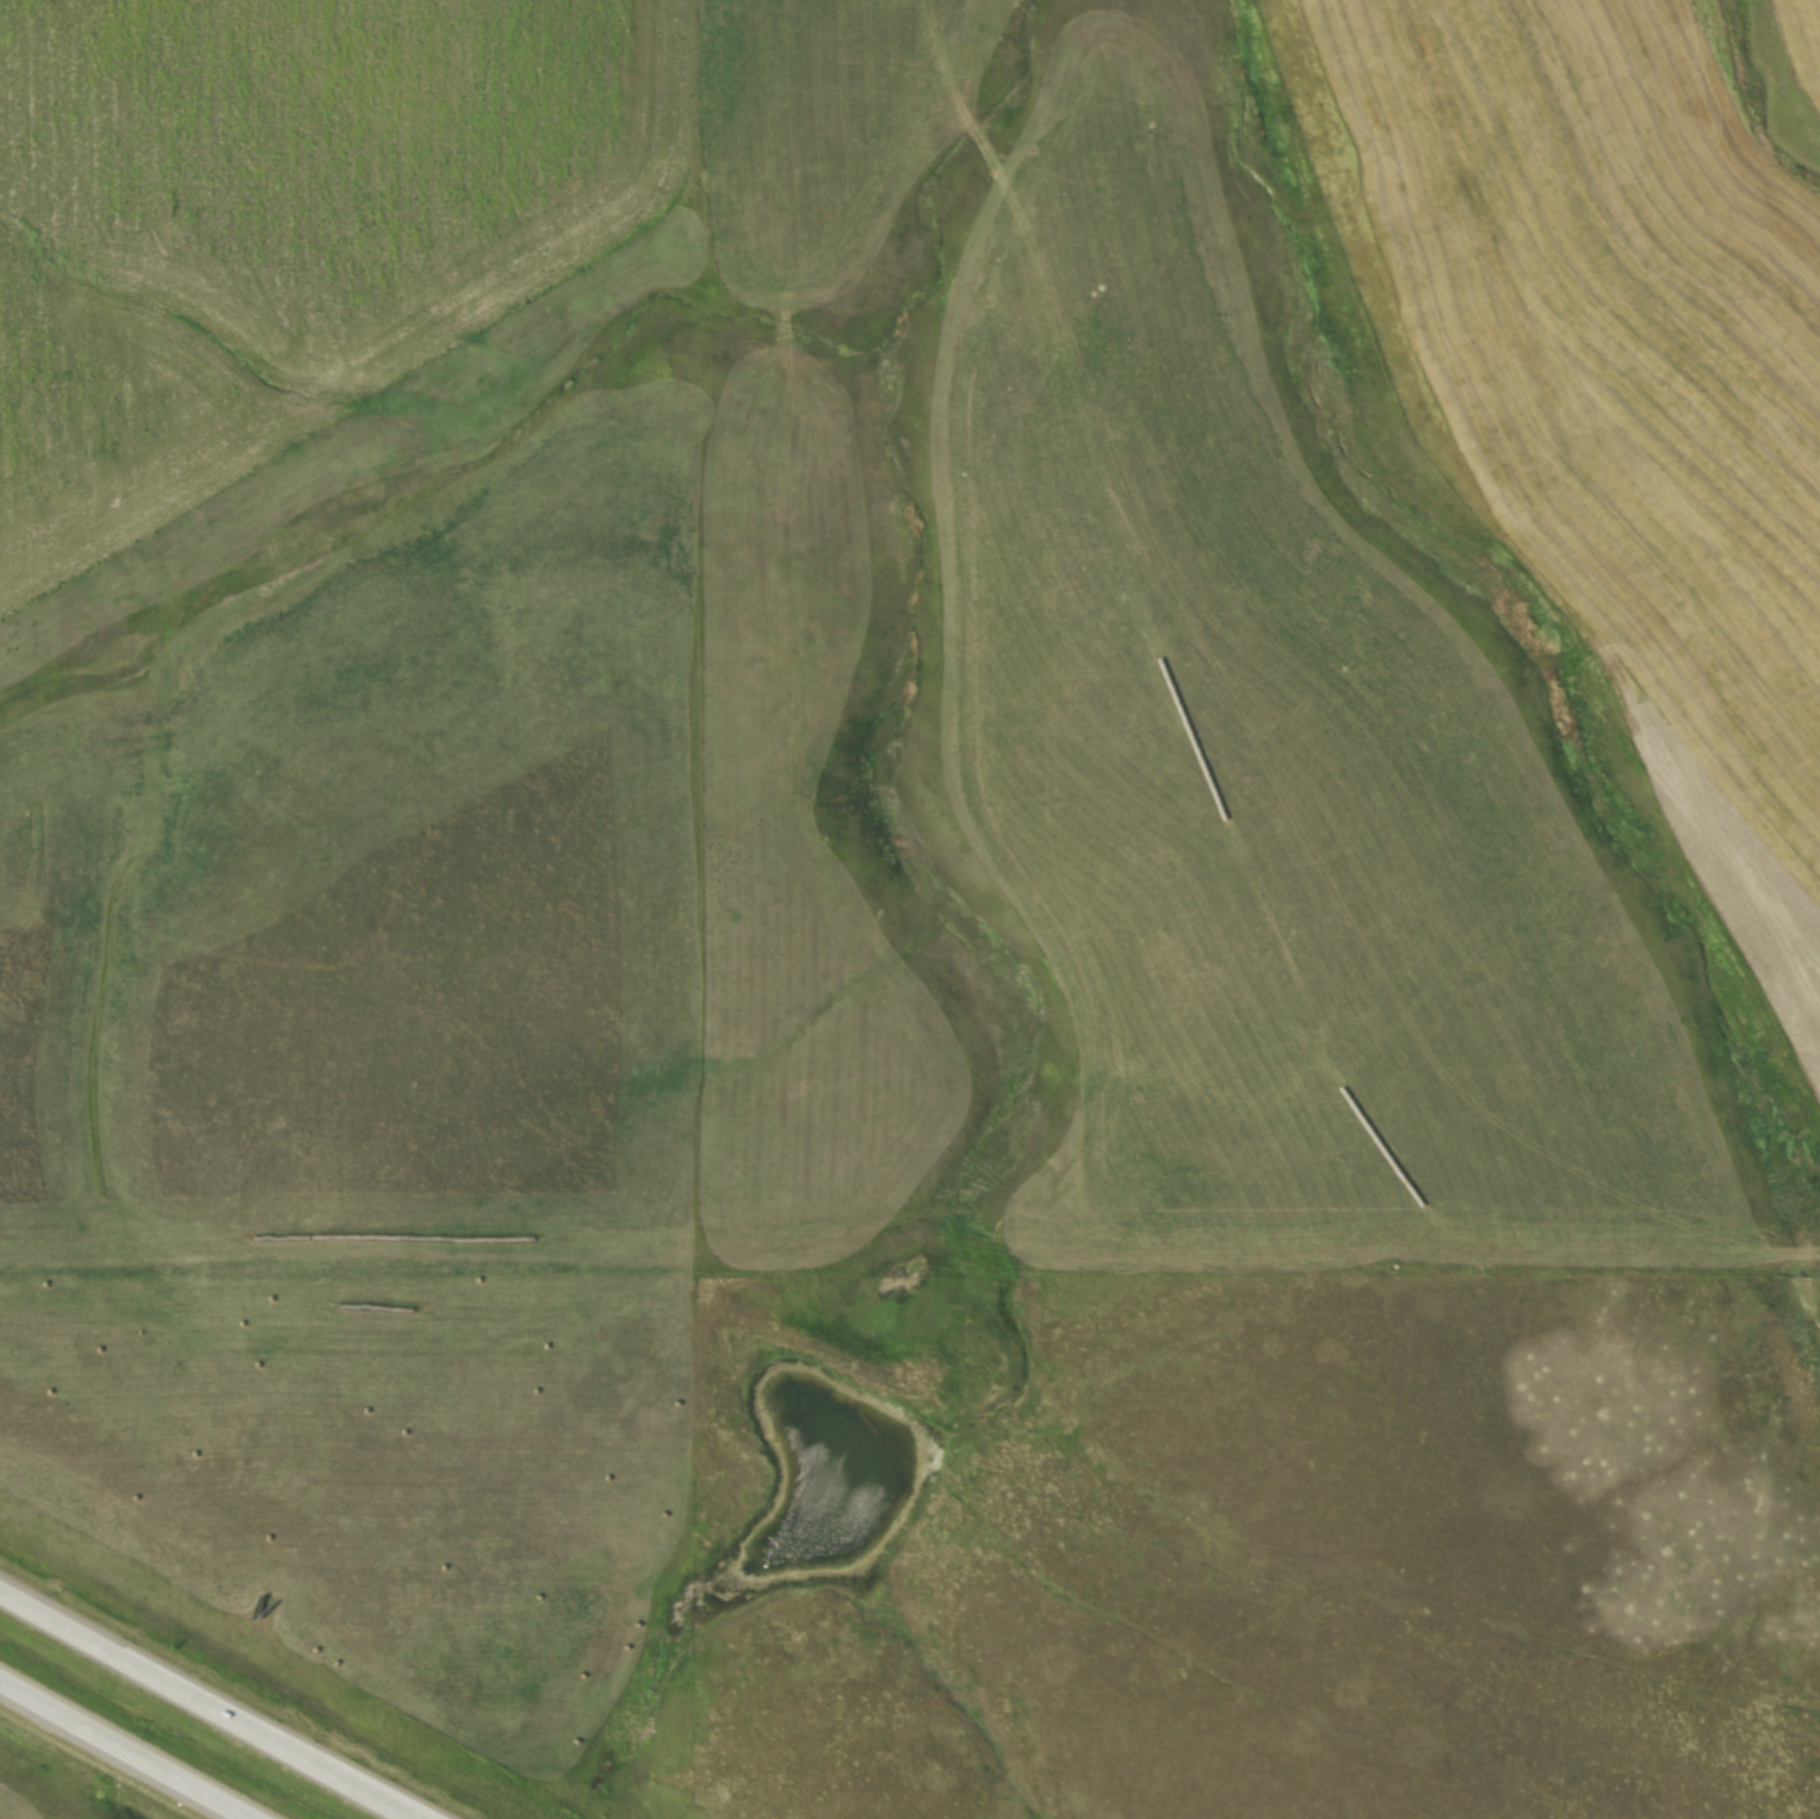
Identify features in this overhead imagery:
road: (909, 1268)
road: (199, 1708)
road: (123, 1751)

